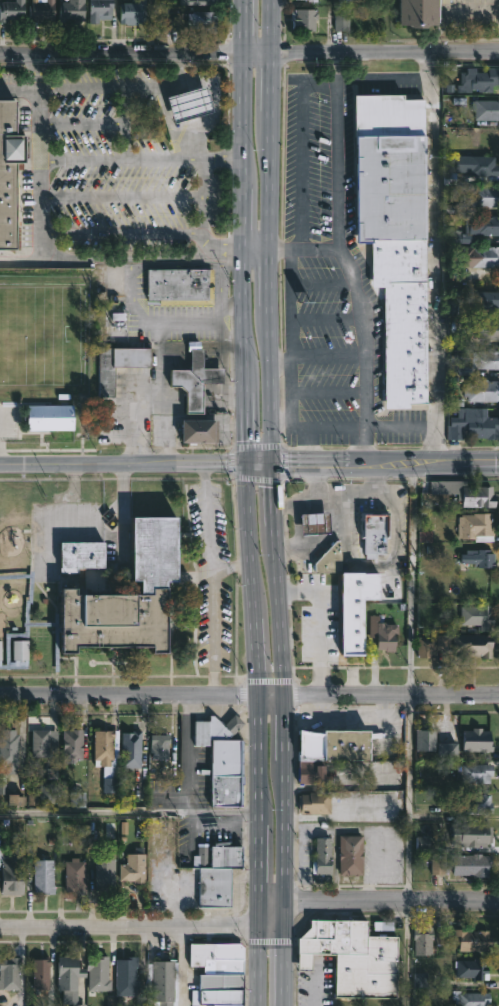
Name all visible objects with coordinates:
building: (306, 1)
building: (200, 2)
building: (72, 9)
building: (98, 9)
building: (12, 10)
building: (133, 11)
building: (41, 13)
building: (422, 13)
building: (305, 19)
building: (204, 20)
building: (342, 23)
road: (149, 29)
road: (389, 54)
road: (263, 57)
road: (123, 58)
road: (38, 75)
road: (392, 77)
building: (478, 80)
road: (120, 88)
road: (19, 91)
building: (185, 104)
gas station: (185, 104)
building: (485, 110)
road: (97, 124)
road: (300, 146)
road: (121, 159)
road: (39, 162)
building: (477, 165)
building: (7, 168)
building: (484, 196)
road: (121, 197)
road: (202, 204)
building: (482, 225)
building: (393, 232)
road: (121, 233)
building: (456, 236)
road: (261, 247)
road: (282, 248)
building: (478, 256)
road: (124, 258)
road: (31, 259)
road: (342, 259)
road: (177, 265)
road: (432, 269)
building: (178, 286)
building: (483, 299)
road: (233, 306)
road: (142, 318)
building: (489, 329)
road: (246, 348)
road: (276, 348)
road: (287, 349)
building: (481, 362)
building: (120, 365)
road: (161, 365)
building: (192, 380)
building: (482, 390)
building: (50, 417)
road: (171, 417)
road: (282, 418)
building: (475, 424)
road: (397, 426)
building: (196, 432)
road: (307, 444)
road: (261, 461)
traffic signals: (275, 461)
traffic signals: (248, 462)
road: (387, 462)
road: (124, 463)
road: (346, 490)
road: (71, 491)
building: (480, 497)
road: (298, 500)
building: (317, 524)
gas station: (317, 524)
building: (476, 527)
road: (297, 534)
building: (377, 536)
building: (480, 558)
building: (331, 559)
road: (230, 566)
road: (211, 578)
road: (410, 581)
building: (154, 587)
building: (351, 608)
building: (478, 617)
road: (318, 629)
building: (25, 633)
building: (384, 634)
building: (474, 646)
building: (427, 648)
road: (129, 695)
road: (274, 696)
road: (393, 699)
building: (426, 738)
building: (478, 740)
building: (333, 742)
building: (103, 744)
building: (43, 745)
building: (72, 745)
building: (160, 745)
building: (131, 748)
building: (9, 751)
building: (449, 751)
building: (225, 759)
building: (478, 772)
building: (312, 773)
building: (47, 791)
road: (181, 793)
building: (317, 802)
building: (475, 802)
road: (407, 803)
road: (92, 817)
building: (472, 834)
road: (260, 851)
road: (289, 851)
building: (352, 854)
building: (323, 856)
building: (474, 864)
building: (440, 867)
building: (133, 868)
building: (218, 872)
building: (105, 873)
building: (45, 874)
building: (75, 874)
building: (13, 875)
road: (393, 907)
road: (273, 913)
road: (129, 922)
building: (424, 939)
building: (472, 939)
building: (354, 956)
road: (405, 956)
road: (182, 963)
building: (474, 968)
building: (10, 972)
building: (98, 973)
building: (40, 974)
building: (218, 974)
building: (127, 975)
building: (69, 976)
building: (161, 982)
building: (472, 998)
building: (80, 1005)

